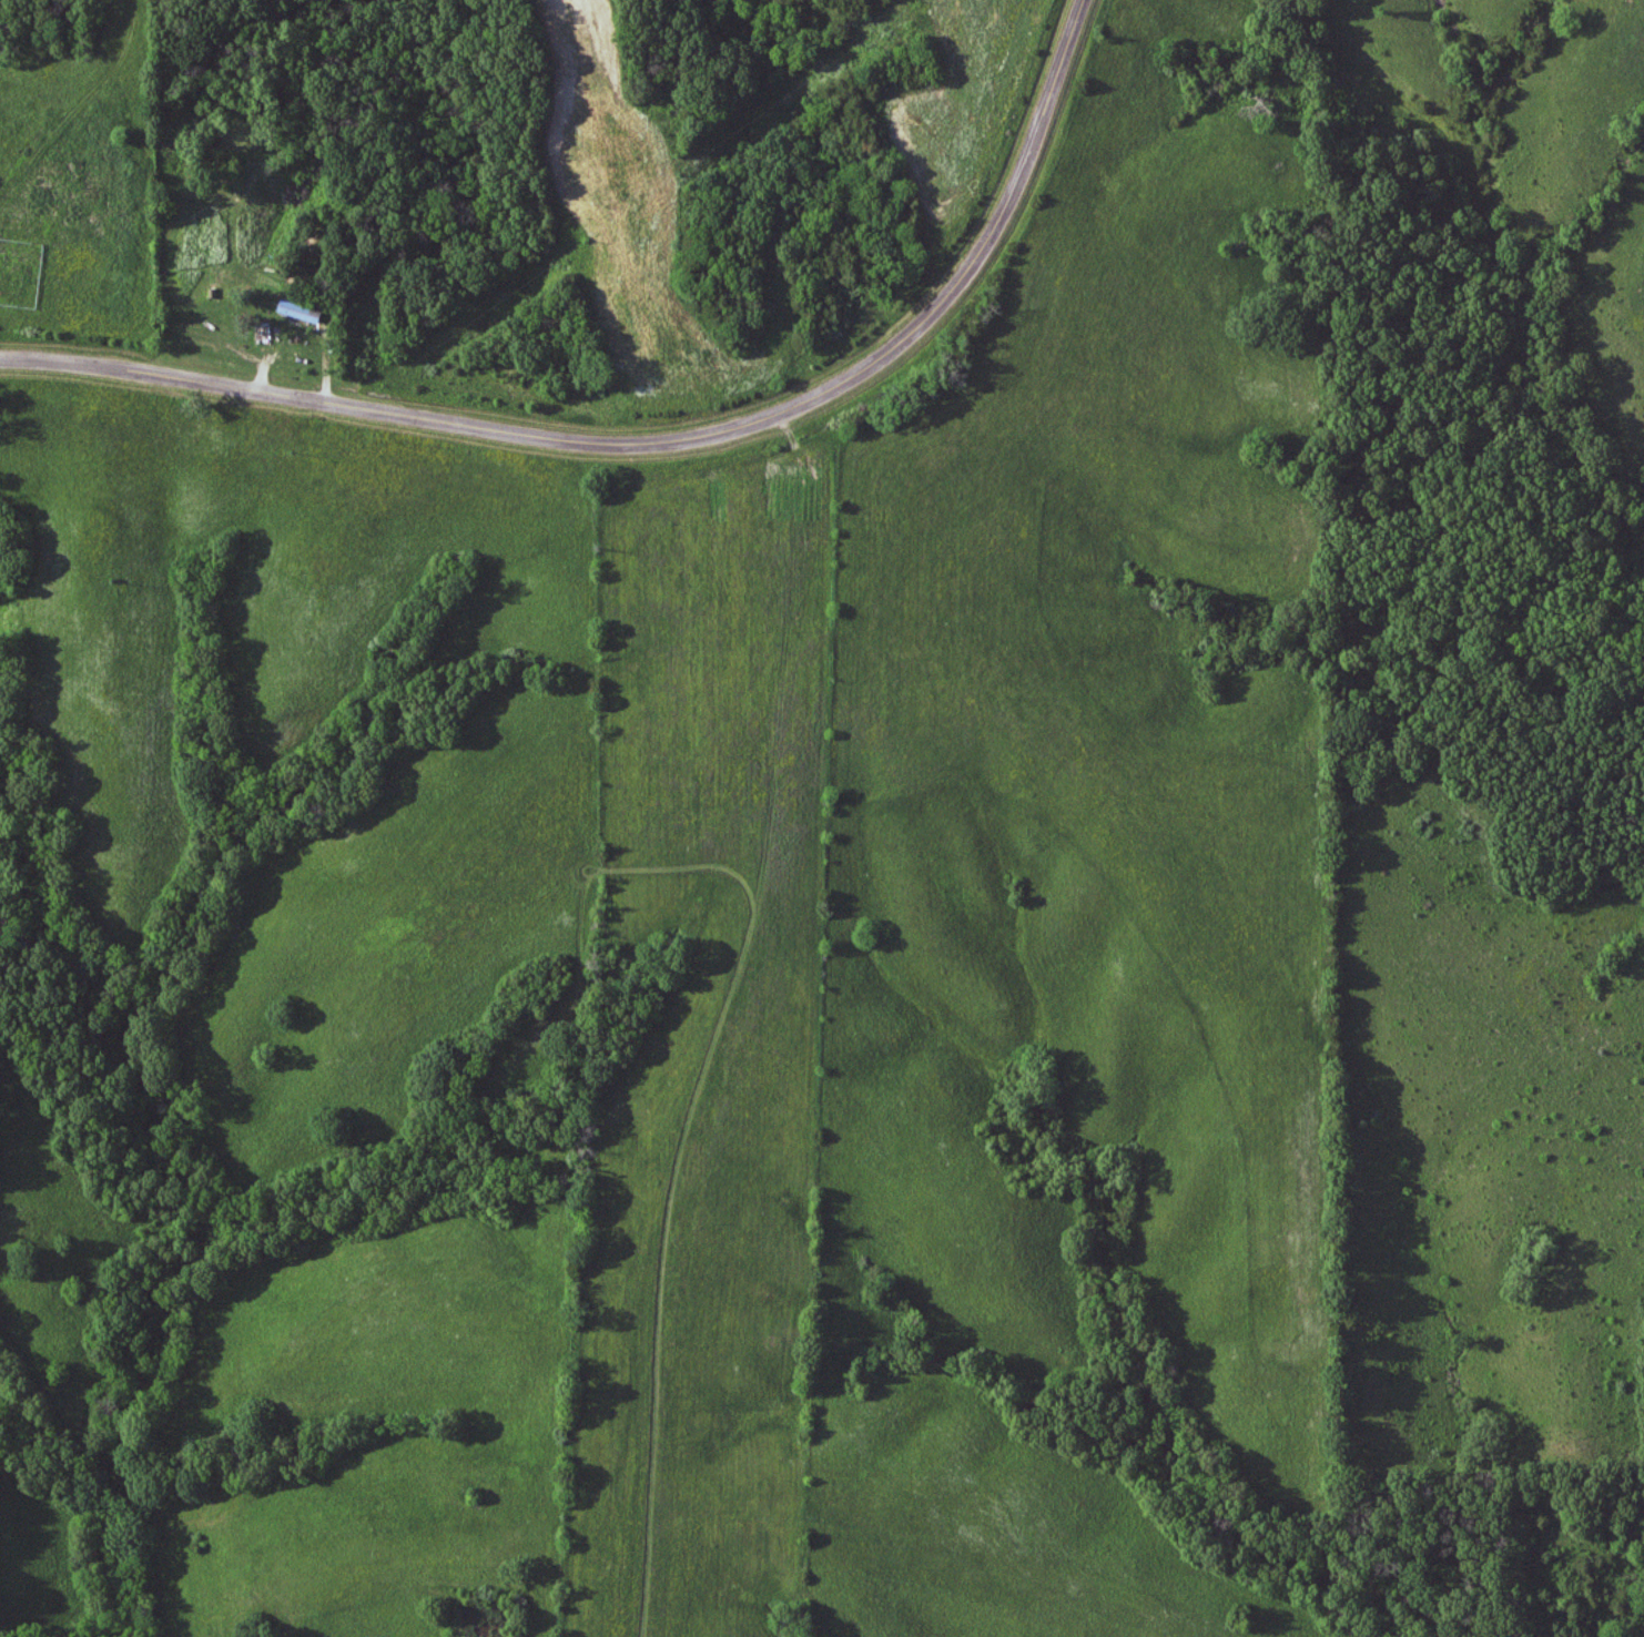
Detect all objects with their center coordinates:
building: (300, 312)
road: (653, 435)

